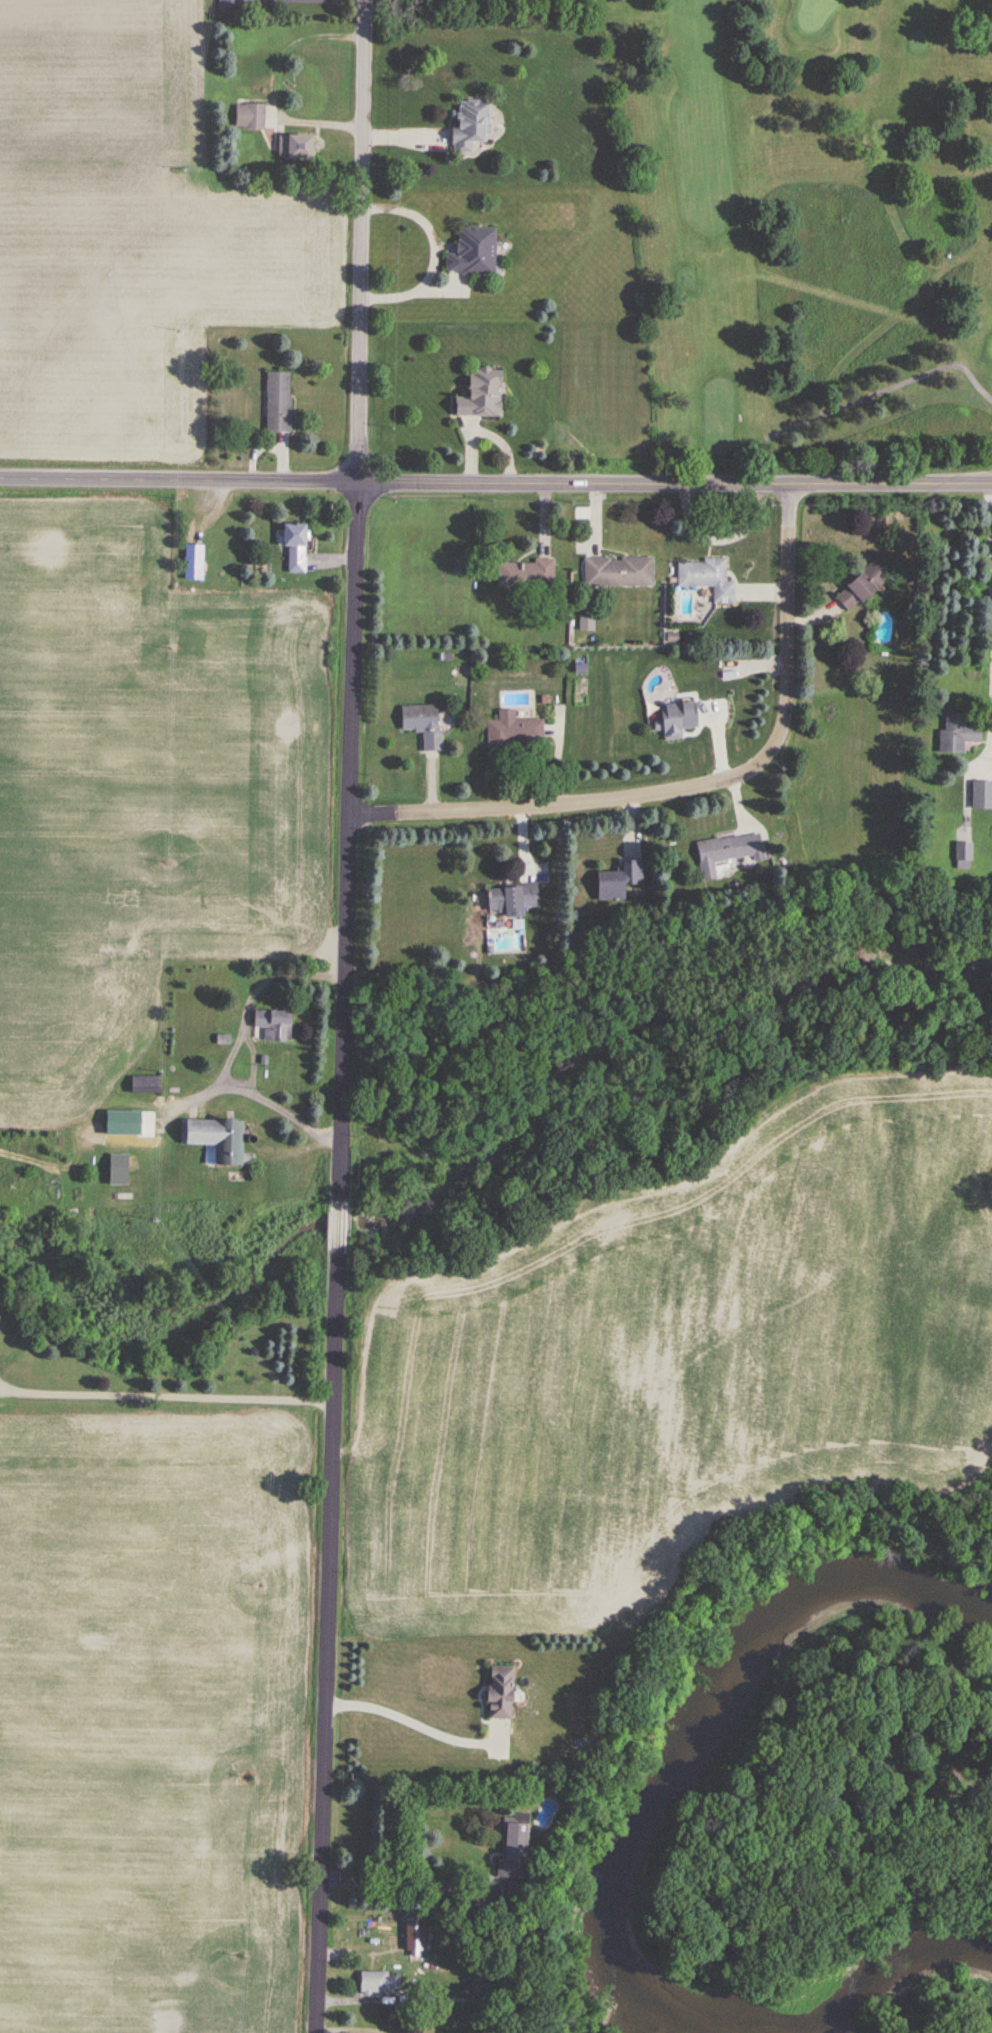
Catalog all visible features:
building: (227, 5)
building: (249, 116)
building: (469, 125)
building: (295, 148)
park: (817, 224)
building: (471, 251)
building: (478, 394)
building: (277, 401)
road: (496, 482)
road: (990, 532)
building: (292, 543)
building: (192, 562)
building: (616, 572)
building: (524, 573)
building: (706, 578)
building: (860, 586)
building: (674, 719)
building: (421, 723)
building: (512, 730)
building: (955, 734)
road: (701, 786)
building: (981, 794)
building: (727, 849)
building: (961, 852)
building: (615, 880)
building: (508, 899)
road: (345, 1016)
building: (271, 1025)
road: (249, 1044)
building: (143, 1085)
building: (117, 1126)
building: (213, 1140)
building: (115, 1169)
road: (167, 1396)
building: (496, 1691)
road: (411, 1722)
river: (690, 1736)
building: (508, 1844)
road: (406, 1882)
river: (887, 1975)
building: (379, 1982)
road: (351, 2030)

